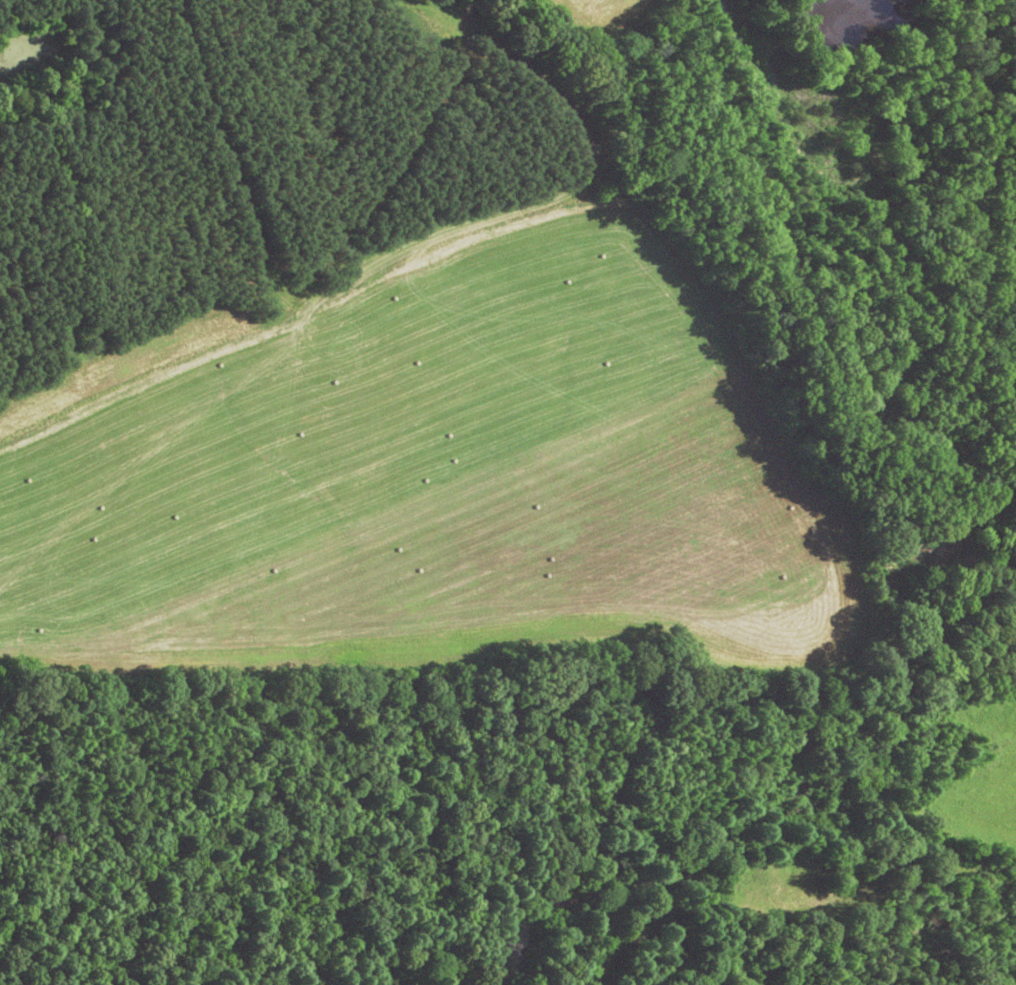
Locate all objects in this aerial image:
road: (724, 895)

